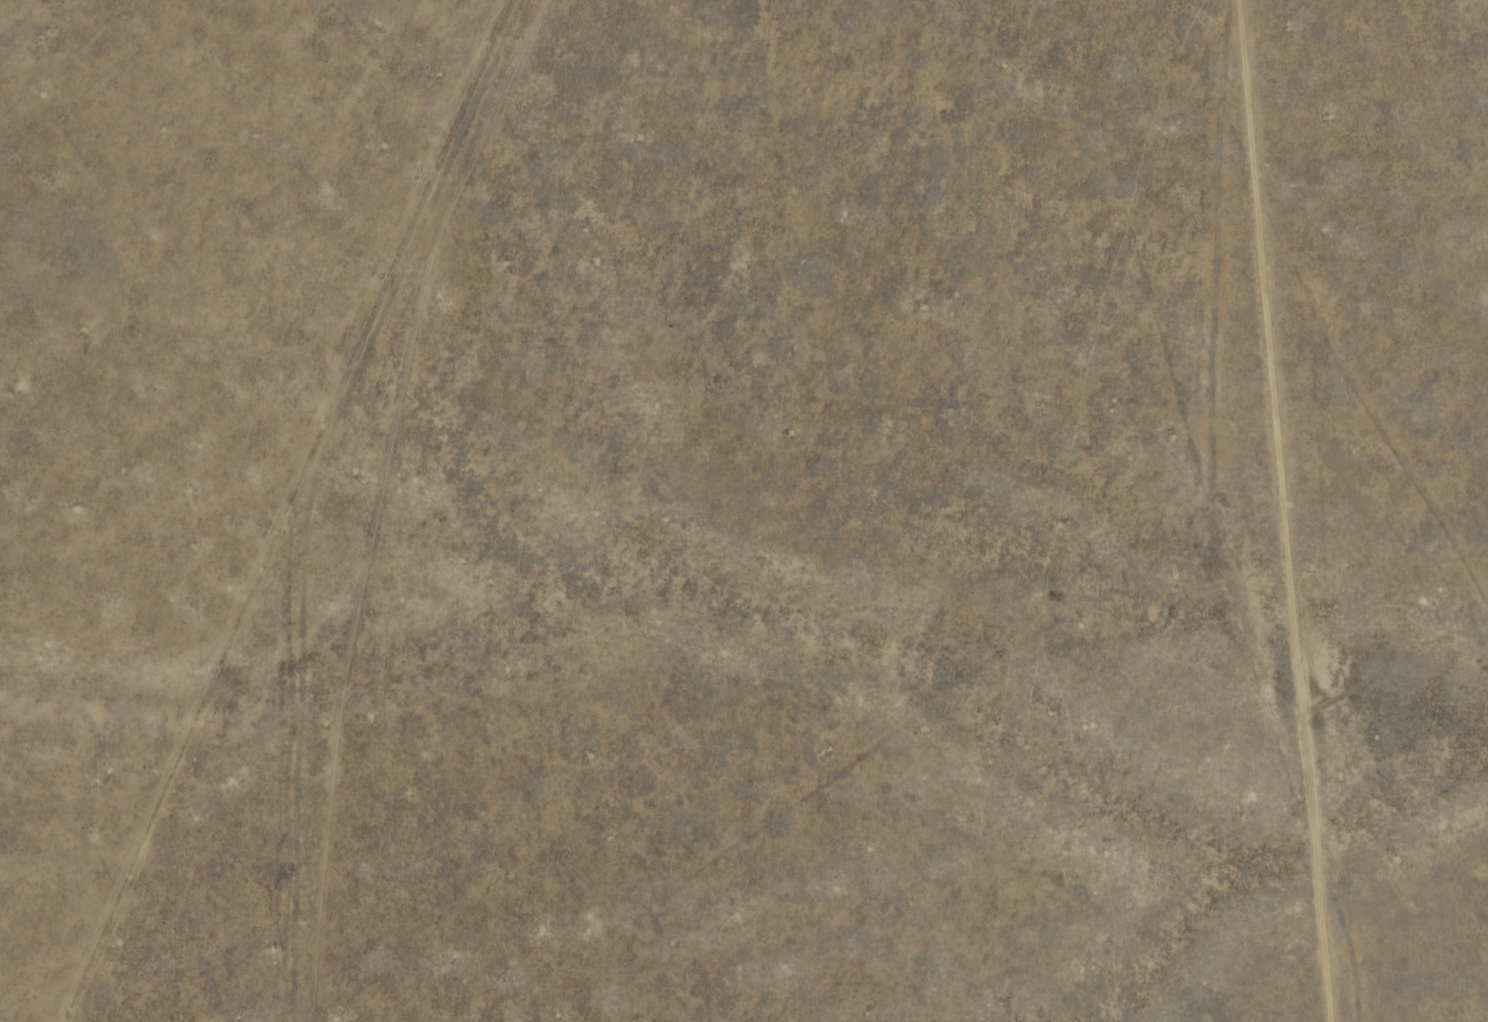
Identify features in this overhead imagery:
road: (1285, 511)

